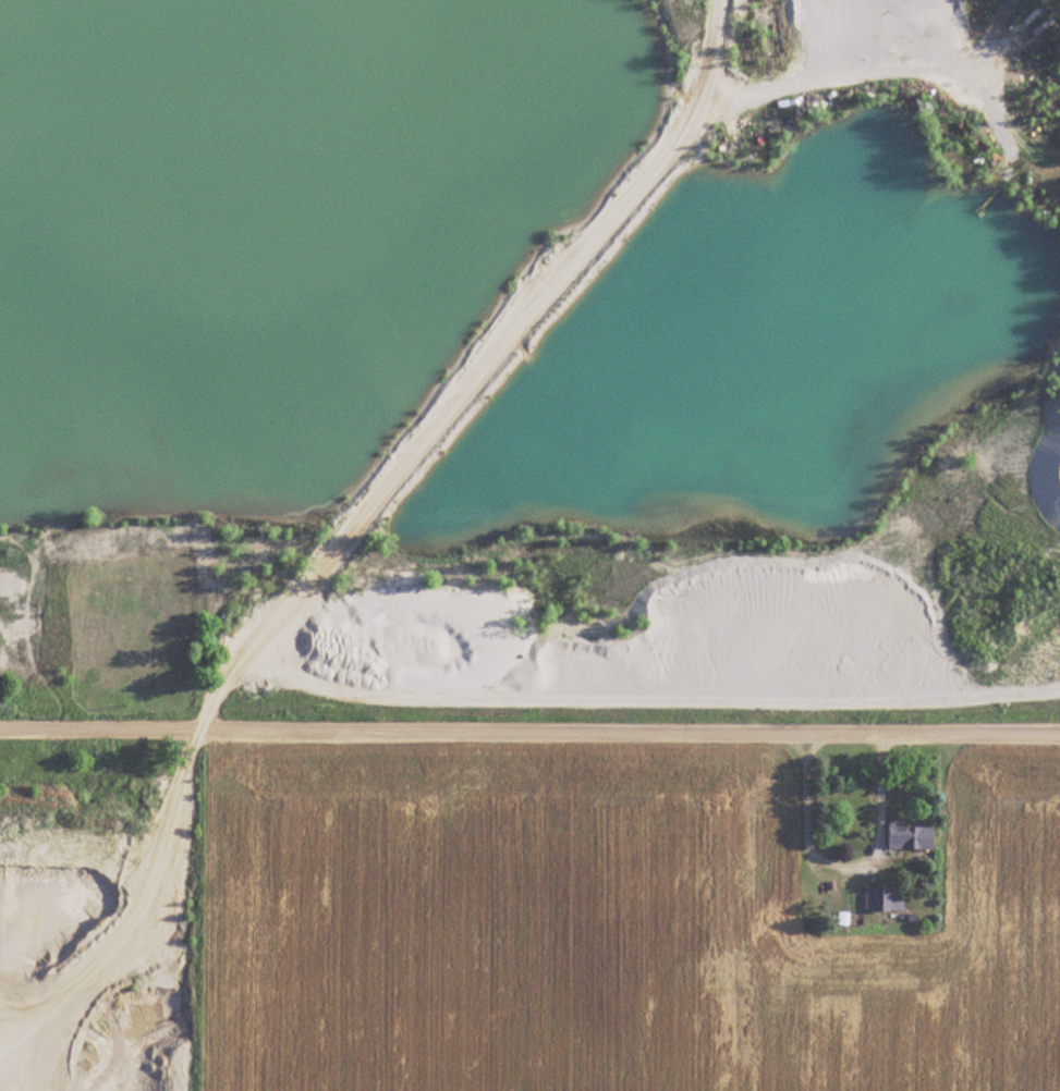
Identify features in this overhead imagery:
road: (484, 375)
road: (529, 732)
building: (912, 835)
building: (884, 898)
building: (787, 916)

